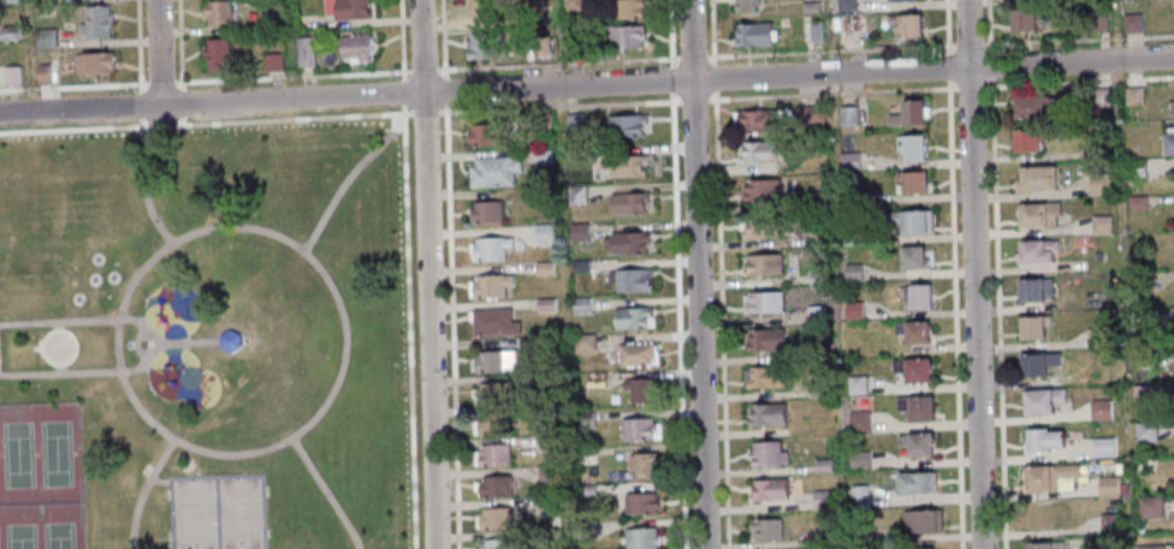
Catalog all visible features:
building: (895, 0)
building: (7, 1)
building: (41, 1)
building: (570, 5)
building: (742, 5)
building: (844, 5)
building: (1172, 6)
building: (808, 7)
building: (625, 8)
building: (350, 10)
building: (43, 11)
building: (478, 11)
building: (215, 12)
building: (1021, 19)
building: (94, 22)
building: (1131, 23)
building: (905, 24)
building: (1097, 24)
building: (813, 30)
building: (8, 32)
building: (753, 34)
building: (623, 36)
road: (402, 37)
building: (45, 38)
road: (443, 38)
building: (571, 40)
road: (180, 43)
road: (140, 44)
building: (355, 46)
building: (481, 46)
building: (540, 46)
building: (304, 52)
road: (158, 53)
building: (215, 54)
building: (93, 61)
building: (272, 61)
road: (422, 68)
road: (440, 68)
building: (10, 74)
building: (41, 74)
road: (292, 74)
road: (161, 82)
road: (73, 84)
road: (586, 85)
road: (403, 90)
road: (445, 90)
building: (1132, 96)
building: (1098, 97)
road: (182, 101)
road: (142, 103)
building: (1031, 106)
building: (1170, 107)
road: (443, 111)
road: (425, 112)
building: (808, 114)
building: (907, 114)
road: (292, 117)
building: (846, 117)
road: (183, 119)
building: (759, 121)
building: (573, 123)
road: (162, 124)
building: (541, 124)
building: (624, 124)
road: (75, 129)
building: (485, 136)
building: (1025, 139)
building: (1167, 144)
building: (813, 145)
building: (909, 147)
building: (760, 151)
building: (1098, 153)
building: (574, 155)
building: (540, 157)
building: (848, 161)
building: (625, 165)
building: (1134, 168)
building: (492, 171)
road: (348, 178)
building: (1034, 178)
building: (911, 181)
road: (143, 183)
building: (1098, 184)
building: (759, 190)
building: (575, 195)
building: (849, 199)
building: (814, 201)
building: (627, 202)
building: (1136, 202)
building: (484, 211)
building: (1036, 214)
building: (913, 222)
building: (1099, 226)
road: (226, 227)
building: (760, 227)
building: (577, 232)
building: (541, 234)
building: (849, 235)
building: (817, 237)
building: (625, 243)
building: (488, 247)
building: (1034, 250)
building: (911, 257)
building: (761, 264)
building: (579, 265)
building: (542, 269)
building: (852, 273)
road: (427, 274)
road: (677, 274)
road: (696, 274)
road: (719, 274)
road: (973, 274)
building: (817, 278)
building: (629, 280)
building: (490, 286)
building: (1032, 290)
building: (915, 296)
building: (763, 302)
building: (544, 304)
building: (580, 305)
building: (853, 310)
building: (813, 314)
building: (630, 317)
road: (995, 317)
building: (1138, 320)
building: (492, 322)
road: (58, 324)
building: (1031, 326)
road: (408, 327)
road: (452, 327)
building: (912, 330)
building: (1096, 336)
park: (203, 338)
building: (764, 340)
building: (231, 341)
road: (137, 342)
road: (190, 342)
building: (582, 342)
road: (158, 344)
building: (820, 350)
building: (634, 353)
building: (493, 360)
building: (1036, 363)
road: (59, 369)
building: (912, 369)
building: (765, 376)
building: (594, 382)
building: (855, 386)
building: (638, 389)
building: (813, 390)
building: (491, 394)
building: (1140, 394)
building: (1040, 400)
building: (914, 407)
building: (1098, 410)
building: (765, 414)
building: (583, 420)
building: (858, 422)
building: (491, 424)
building: (639, 429)
building: (1144, 431)
building: (1040, 438)
building: (915, 443)
building: (545, 444)
building: (1102, 447)
building: (492, 454)
building: (765, 454)
building: (585, 456)
building: (858, 459)
building: (642, 464)
building: (1144, 465)
building: (822, 466)
building: (546, 475)
building: (1048, 477)
park: (41, 478)
road: (159, 482)
building: (914, 482)
building: (1105, 485)
building: (493, 487)
building: (1121, 489)
road: (144, 490)
building: (767, 490)
building: (585, 491)
road: (327, 493)
building: (856, 497)
building: (819, 500)
building: (639, 503)
building: (546, 507)
building: (1148, 507)
park: (218, 512)
building: (1042, 514)
building: (493, 518)
building: (918, 521)
building: (1108, 523)
building: (585, 530)
building: (764, 530)
building: (862, 533)
building: (824, 537)
building: (640, 538)
building: (496, 543)
building: (1043, 545)
building: (1149, 547)
building: (923, 548)

